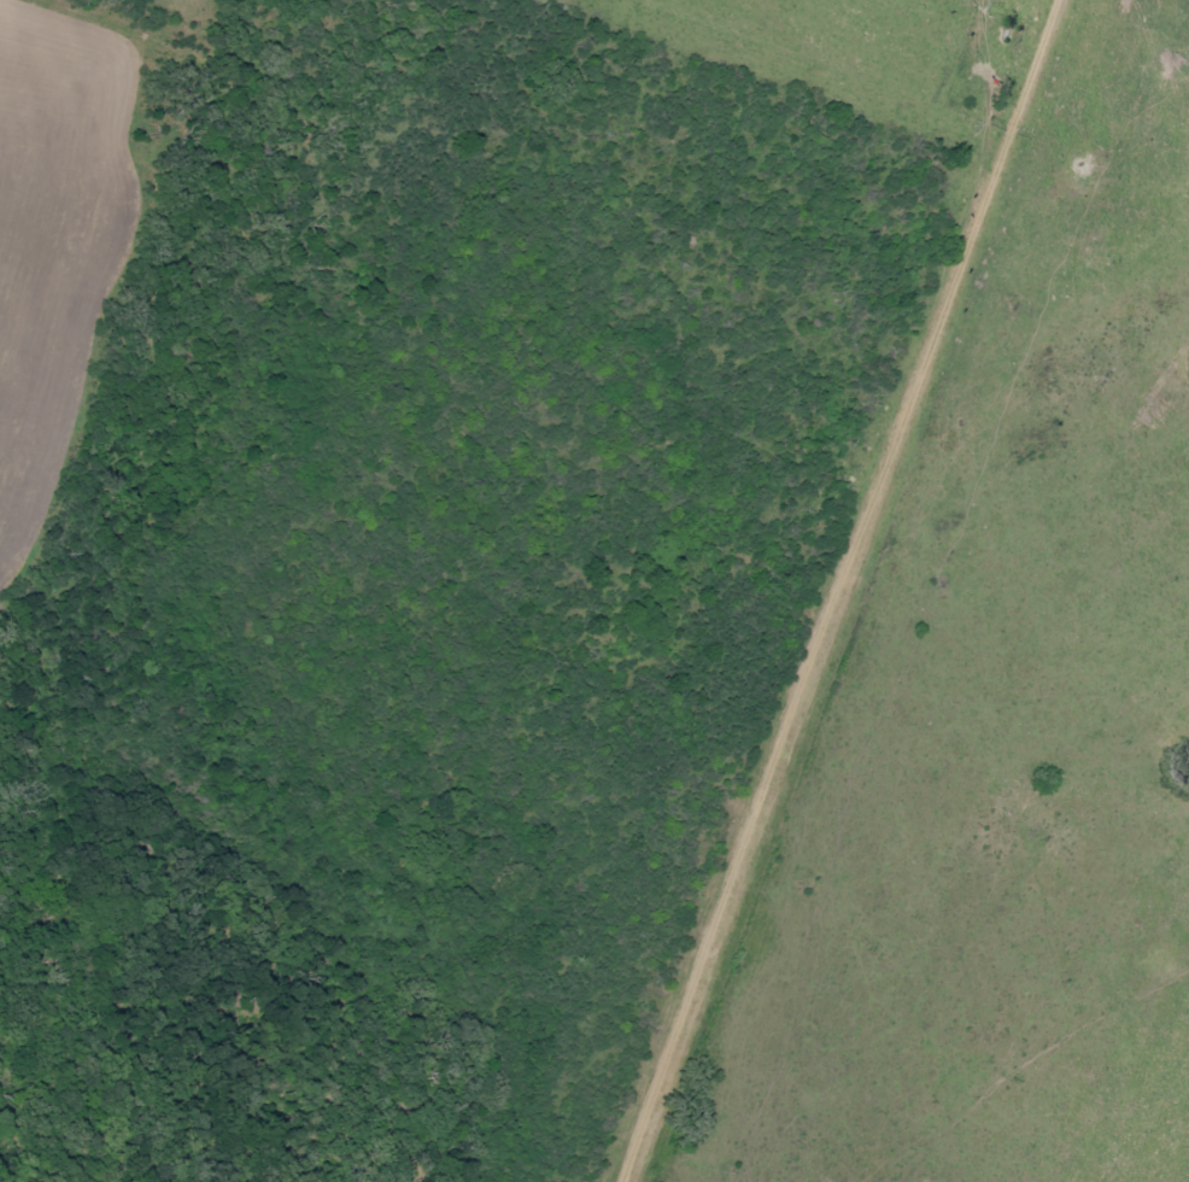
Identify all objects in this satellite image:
road: (550, 590)
road: (833, 592)

